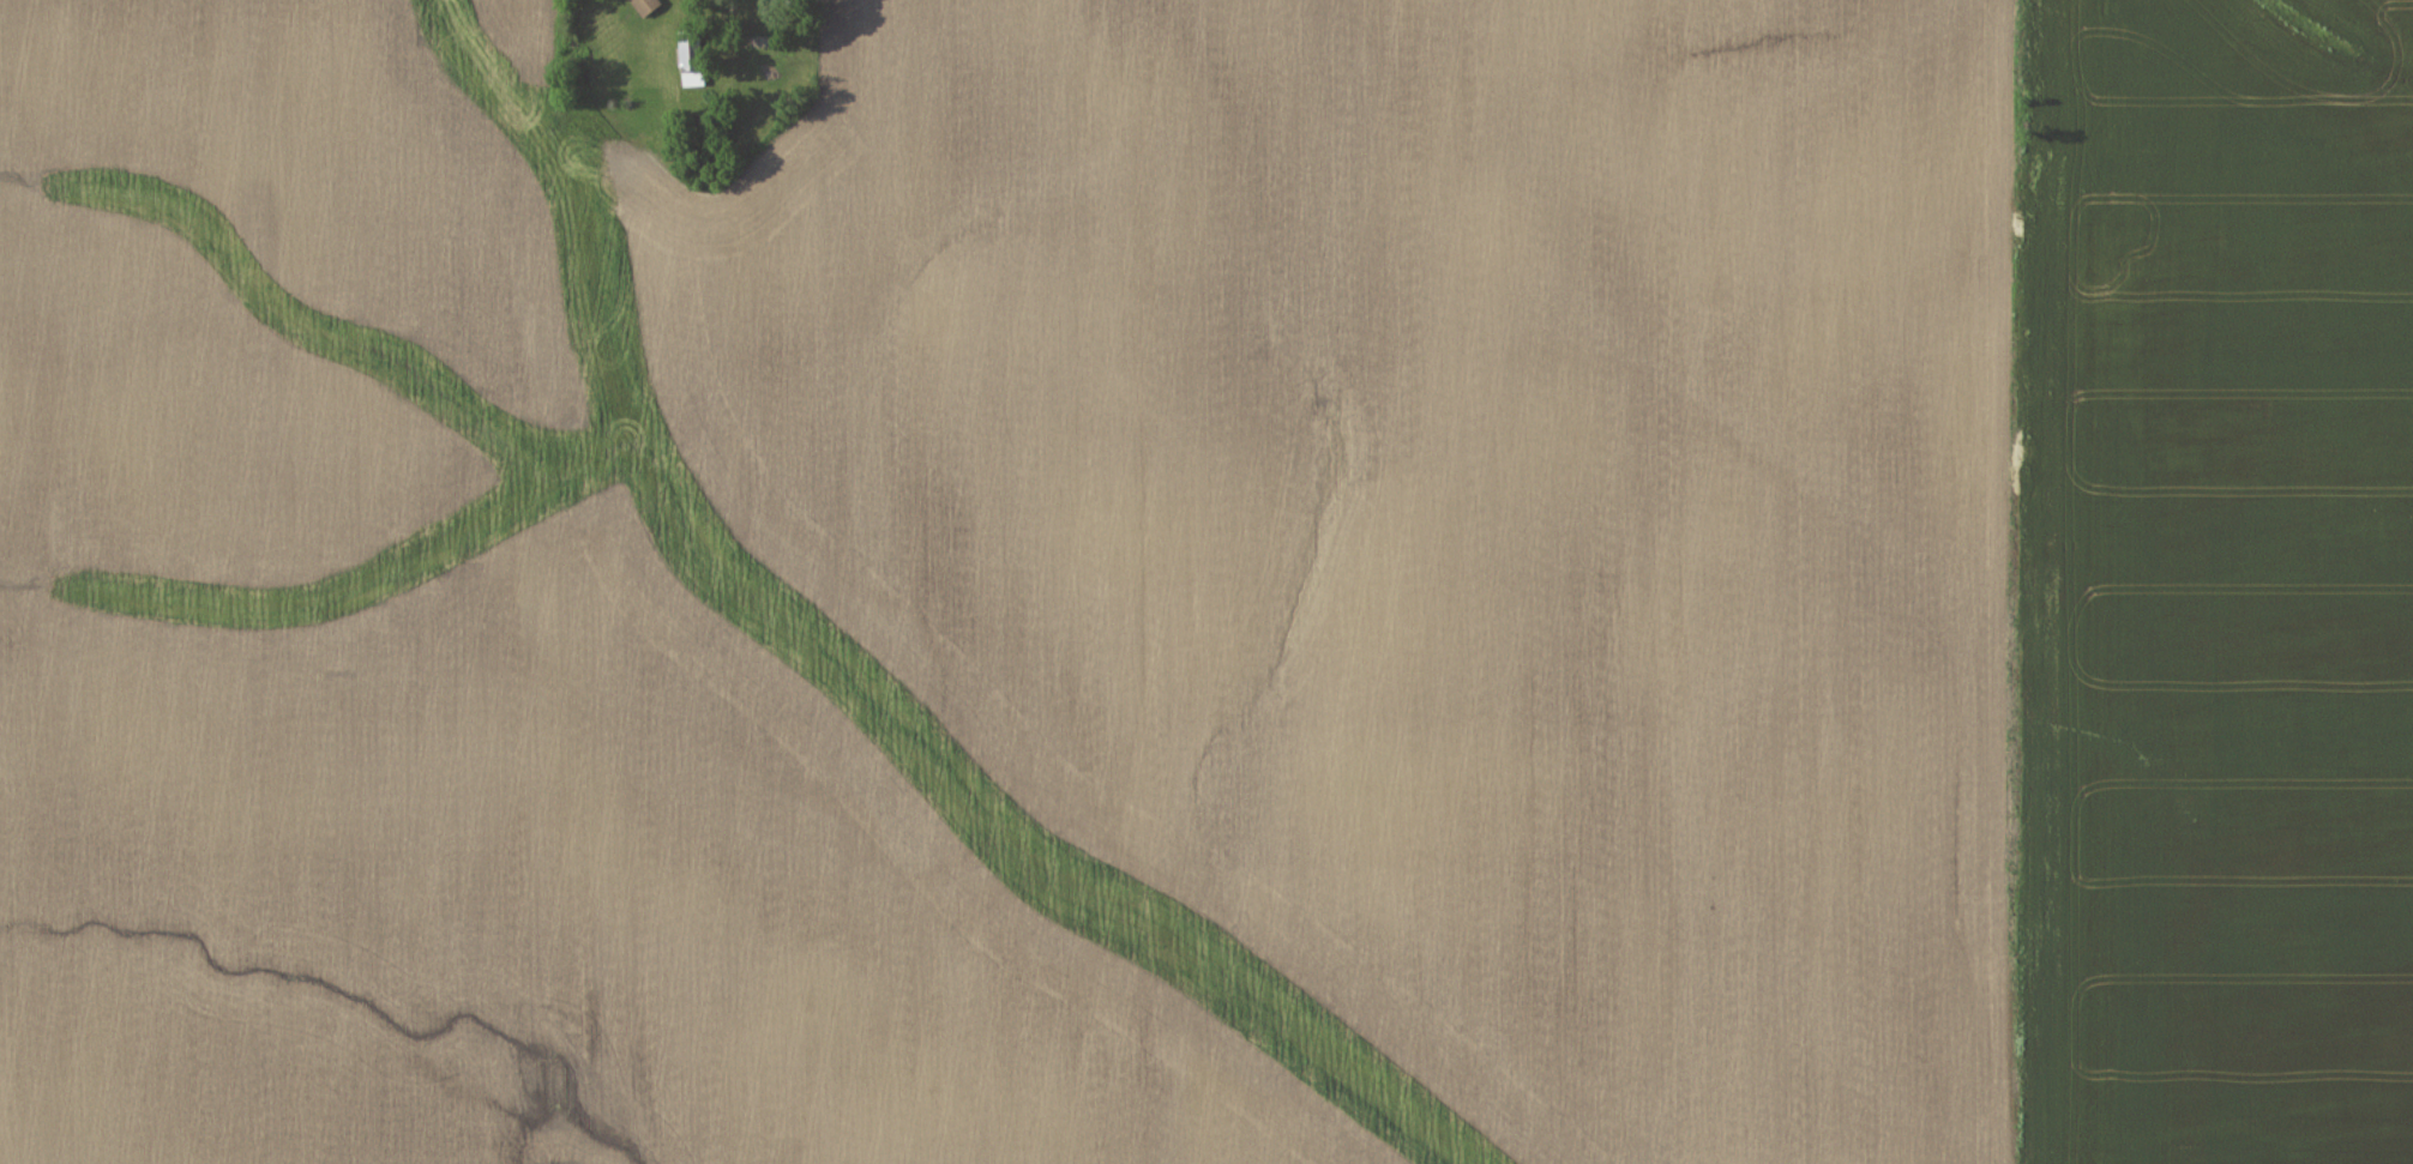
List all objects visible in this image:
building: (643, 6)

